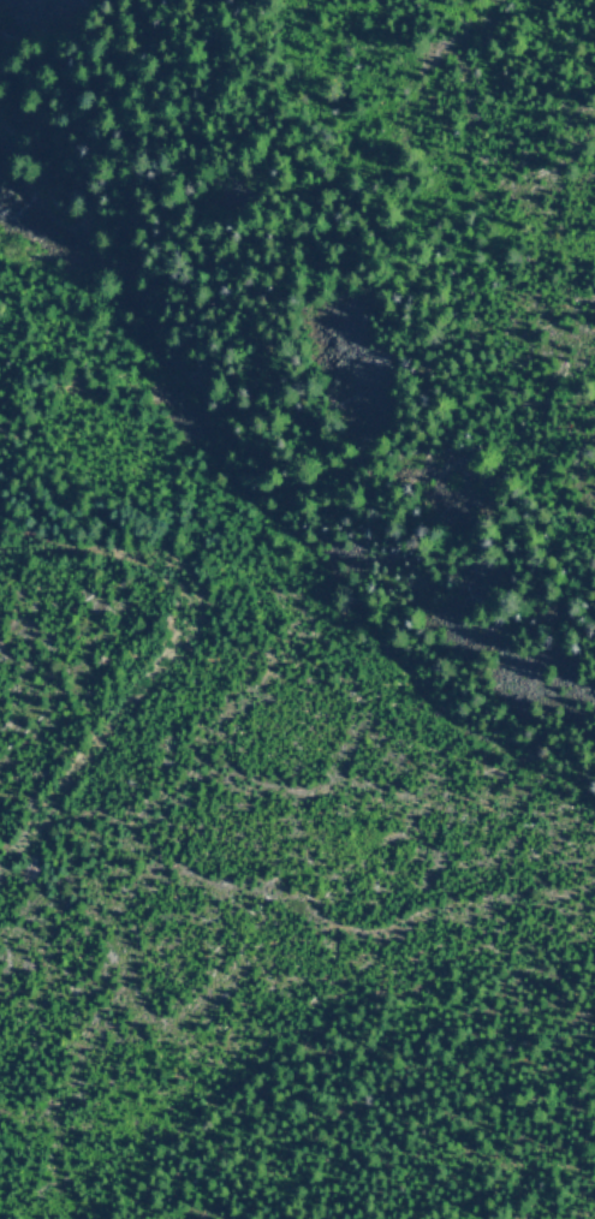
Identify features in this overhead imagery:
road: (150, 656)

